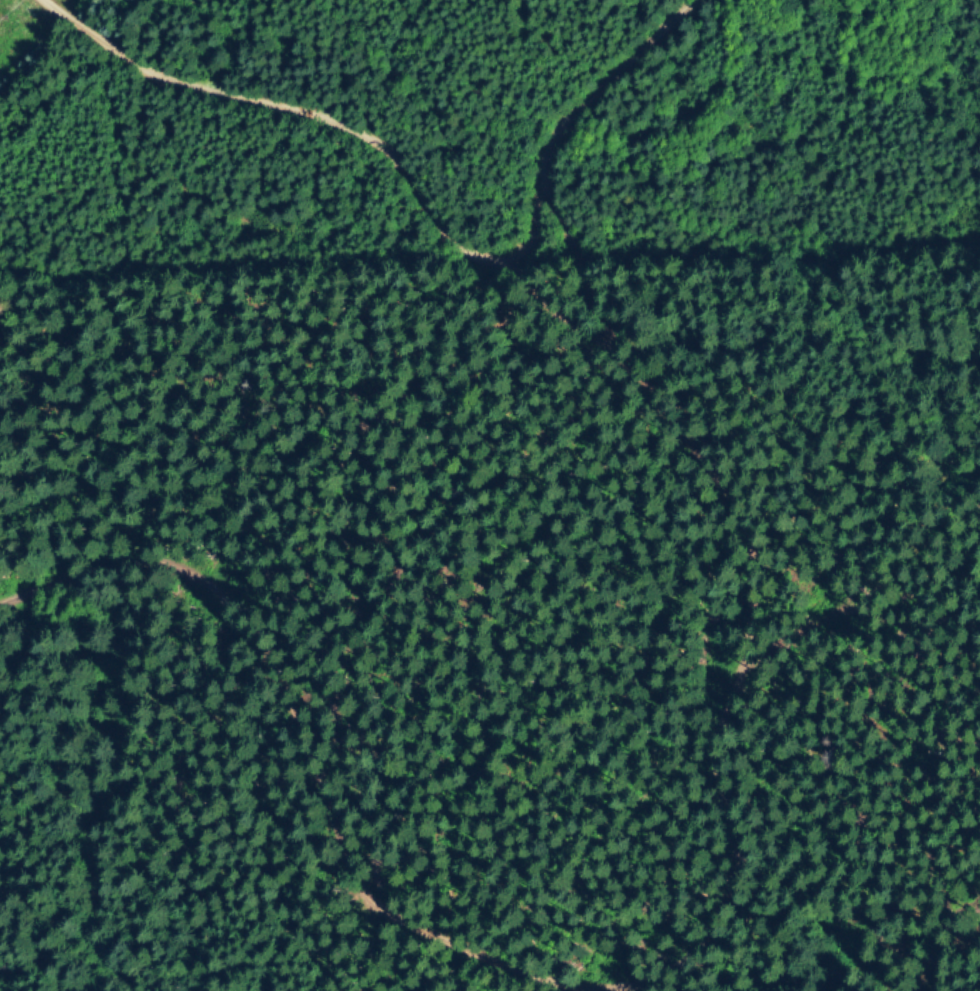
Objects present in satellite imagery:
road: (350, 130)
road: (526, 266)
road: (707, 473)
road: (266, 788)
road: (933, 942)

